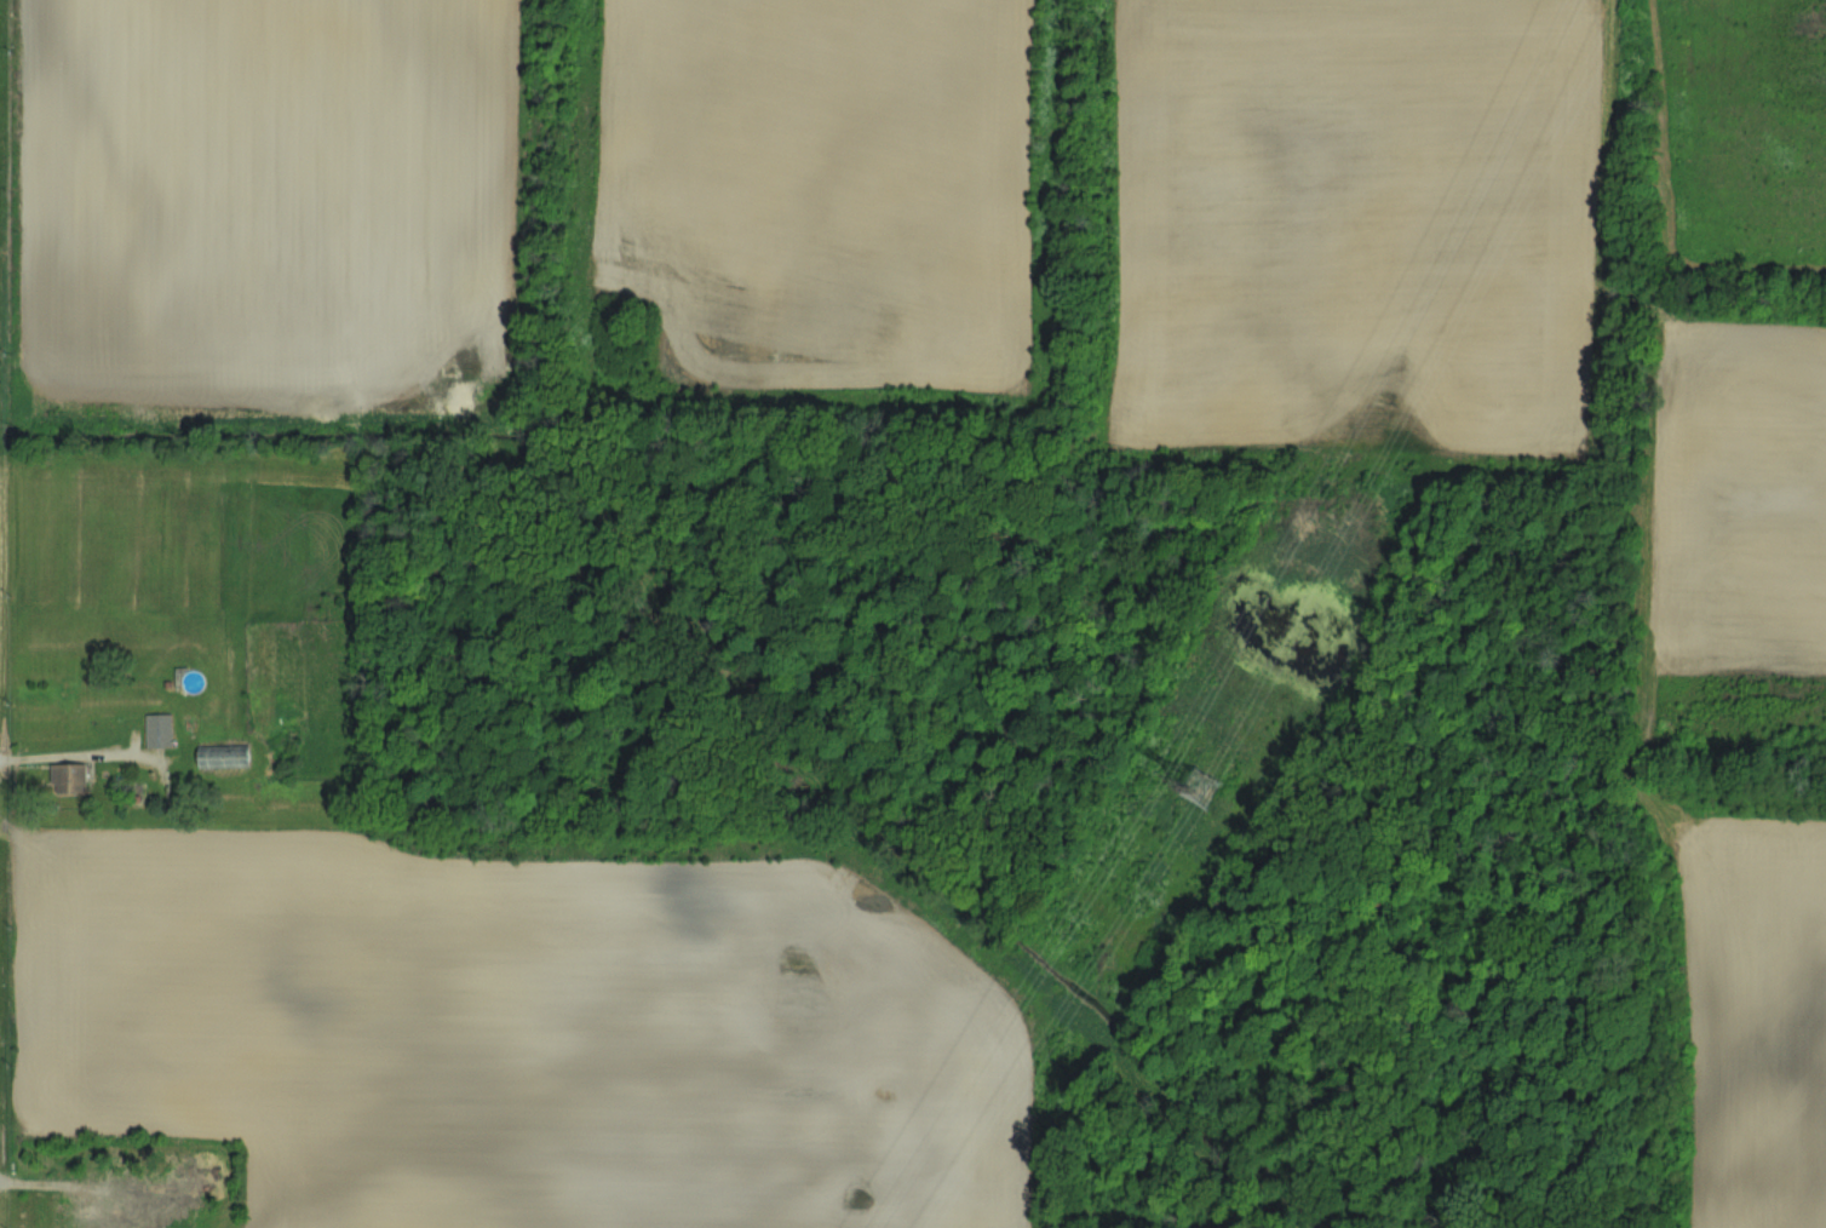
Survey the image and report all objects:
road: (1607, 73)
building: (69, 776)
power tower: (1199, 796)

